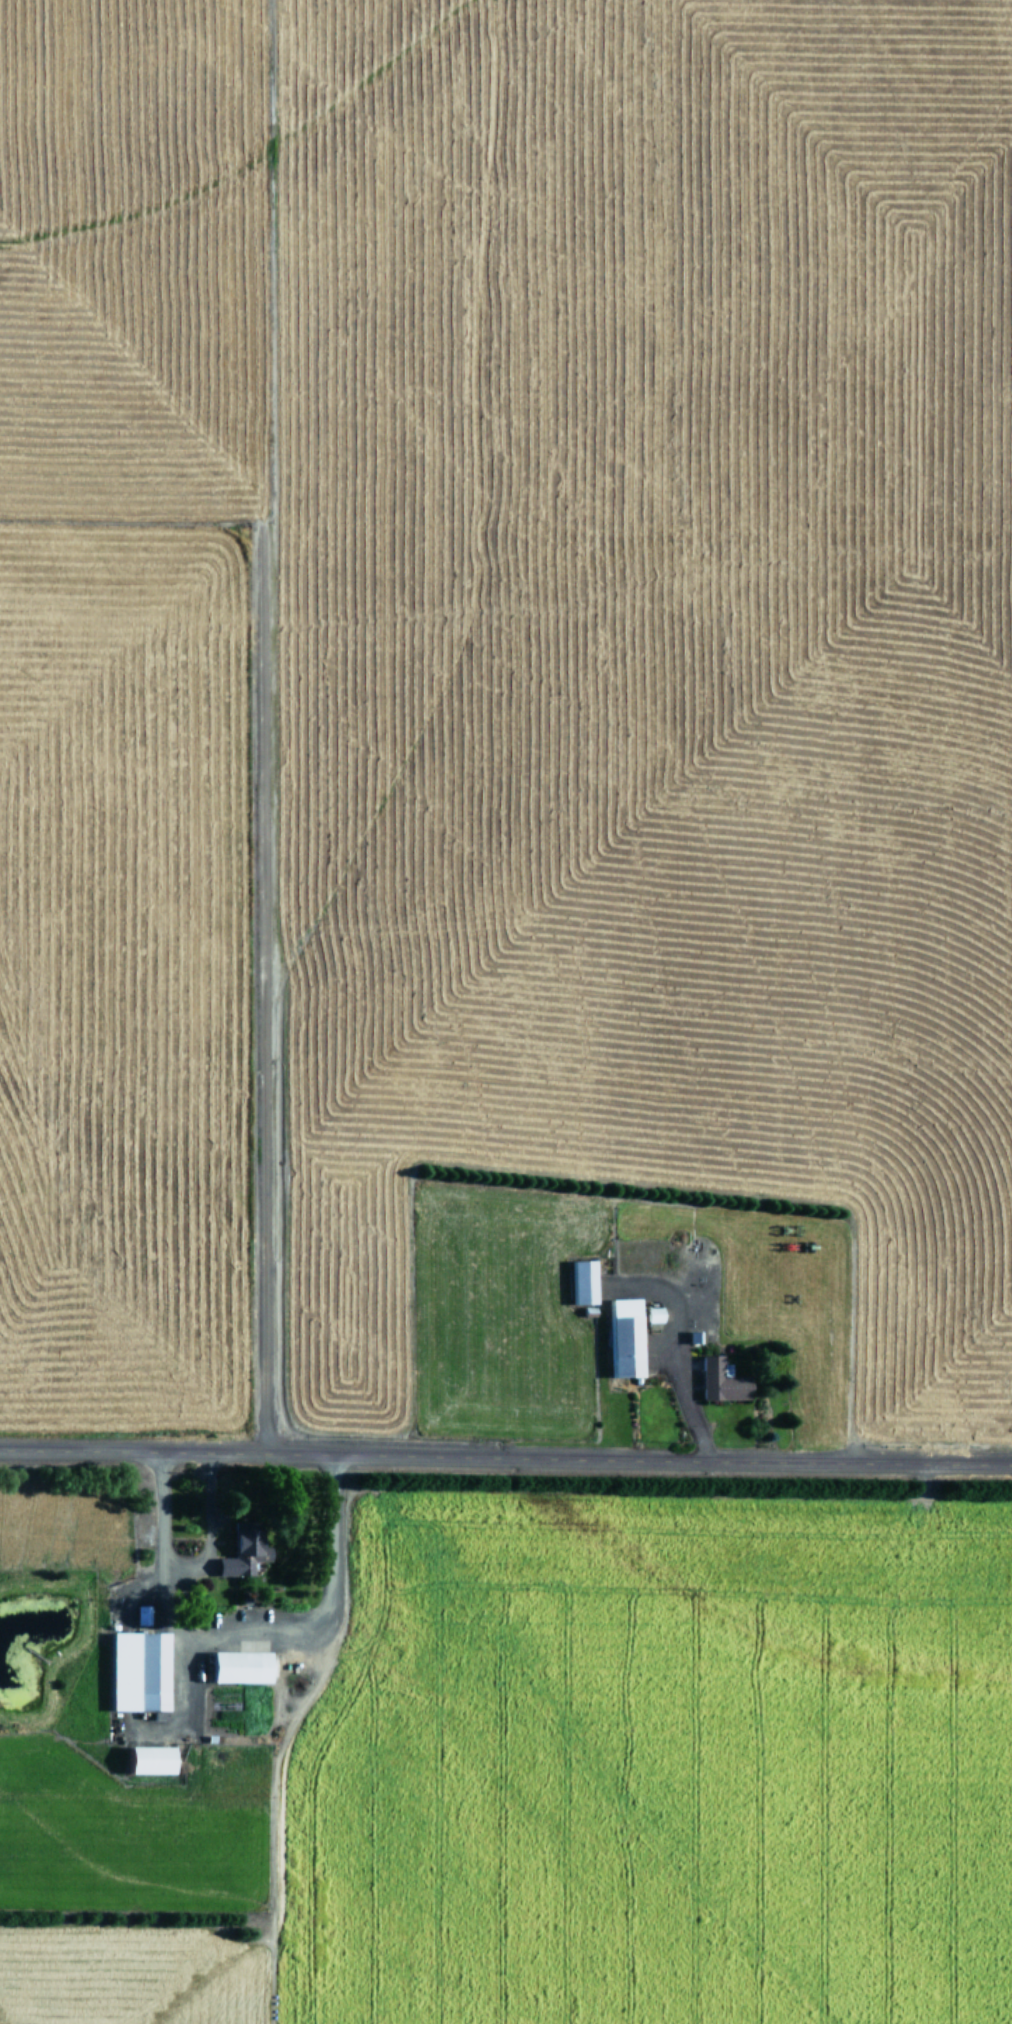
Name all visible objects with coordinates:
crop: (506, 716)
building: (580, 1281)
building: (622, 1337)
building: (718, 1380)
road: (506, 1458)
building: (241, 1551)
building: (142, 1615)
building: (234, 1666)
building: (135, 1671)
crop: (504, 1751)
building: (143, 1759)

